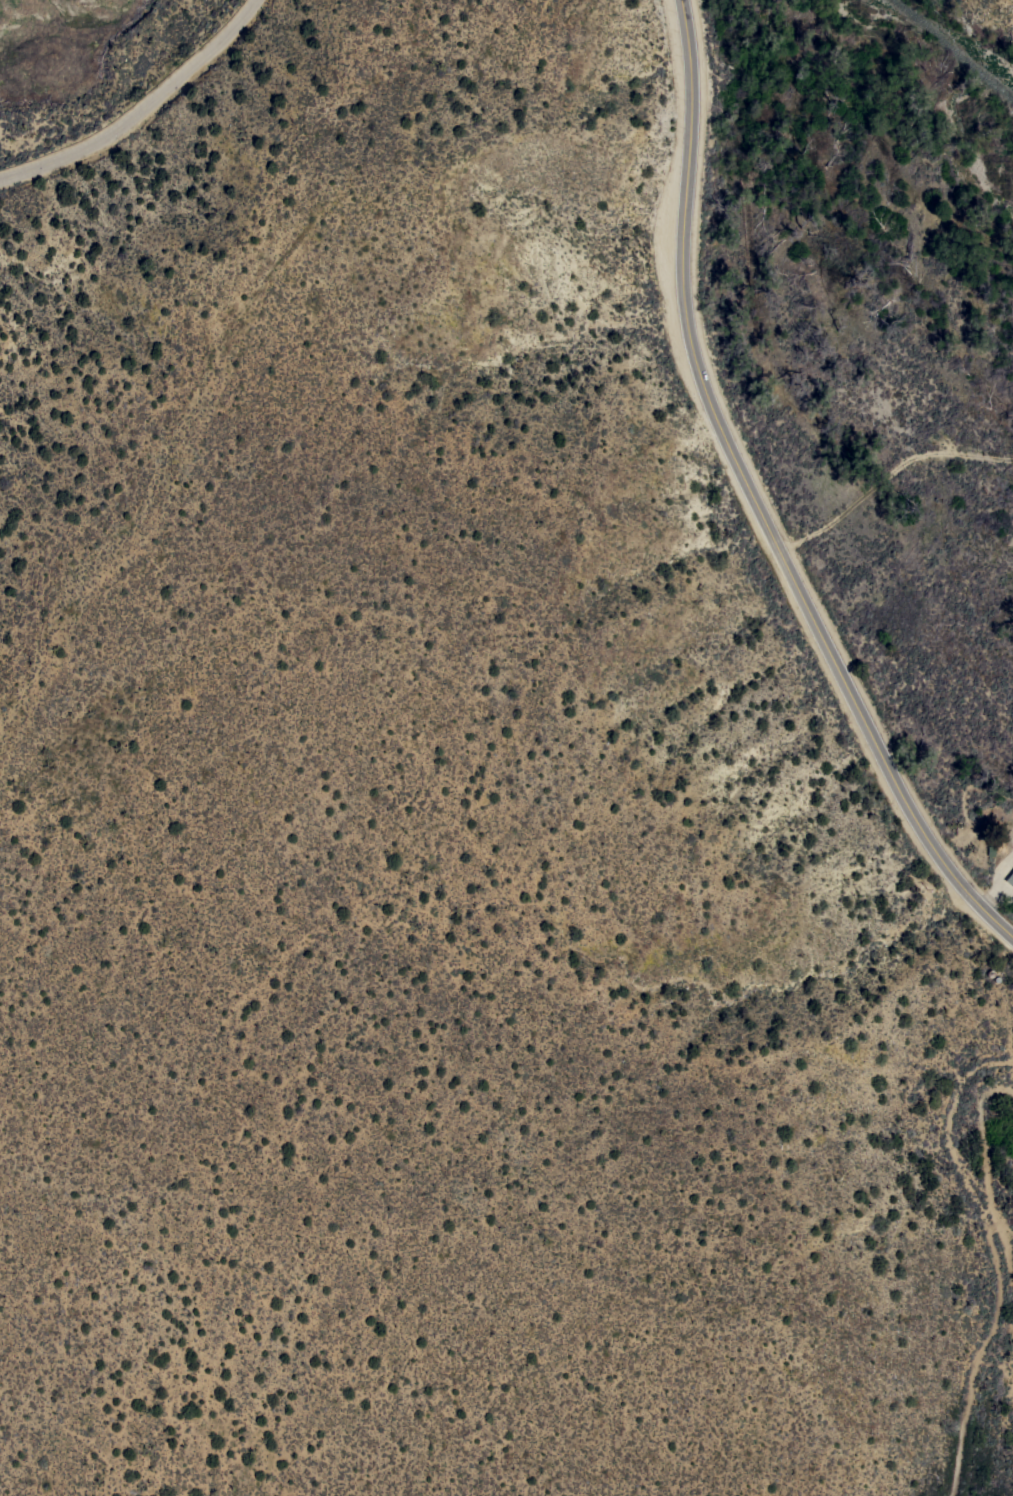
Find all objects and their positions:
road: (141, 108)
road: (752, 499)
road: (375, 742)
building: (1010, 878)

